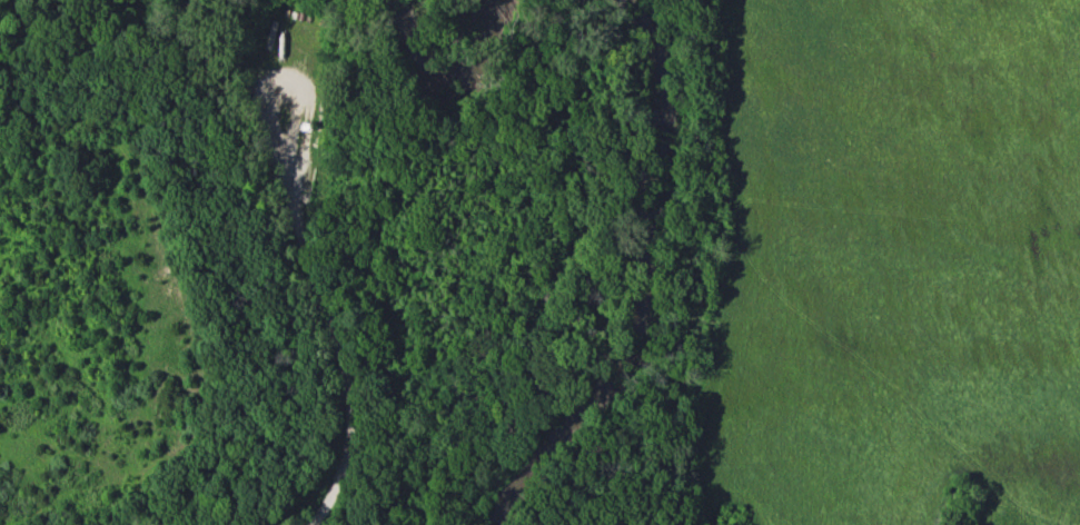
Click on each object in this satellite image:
road: (275, 85)
road: (335, 347)

